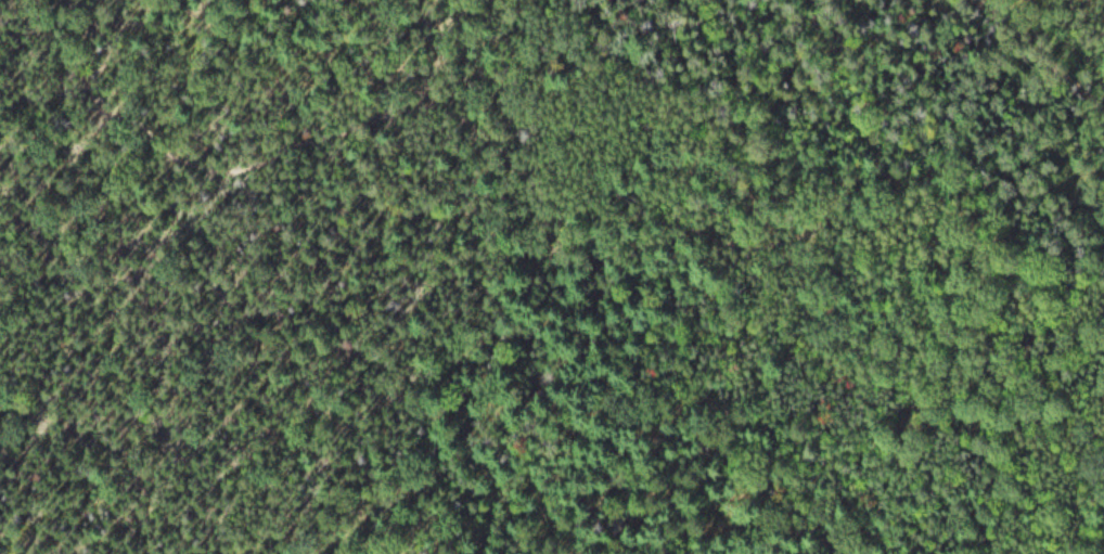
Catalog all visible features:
road: (1043, 56)
road: (549, 182)

